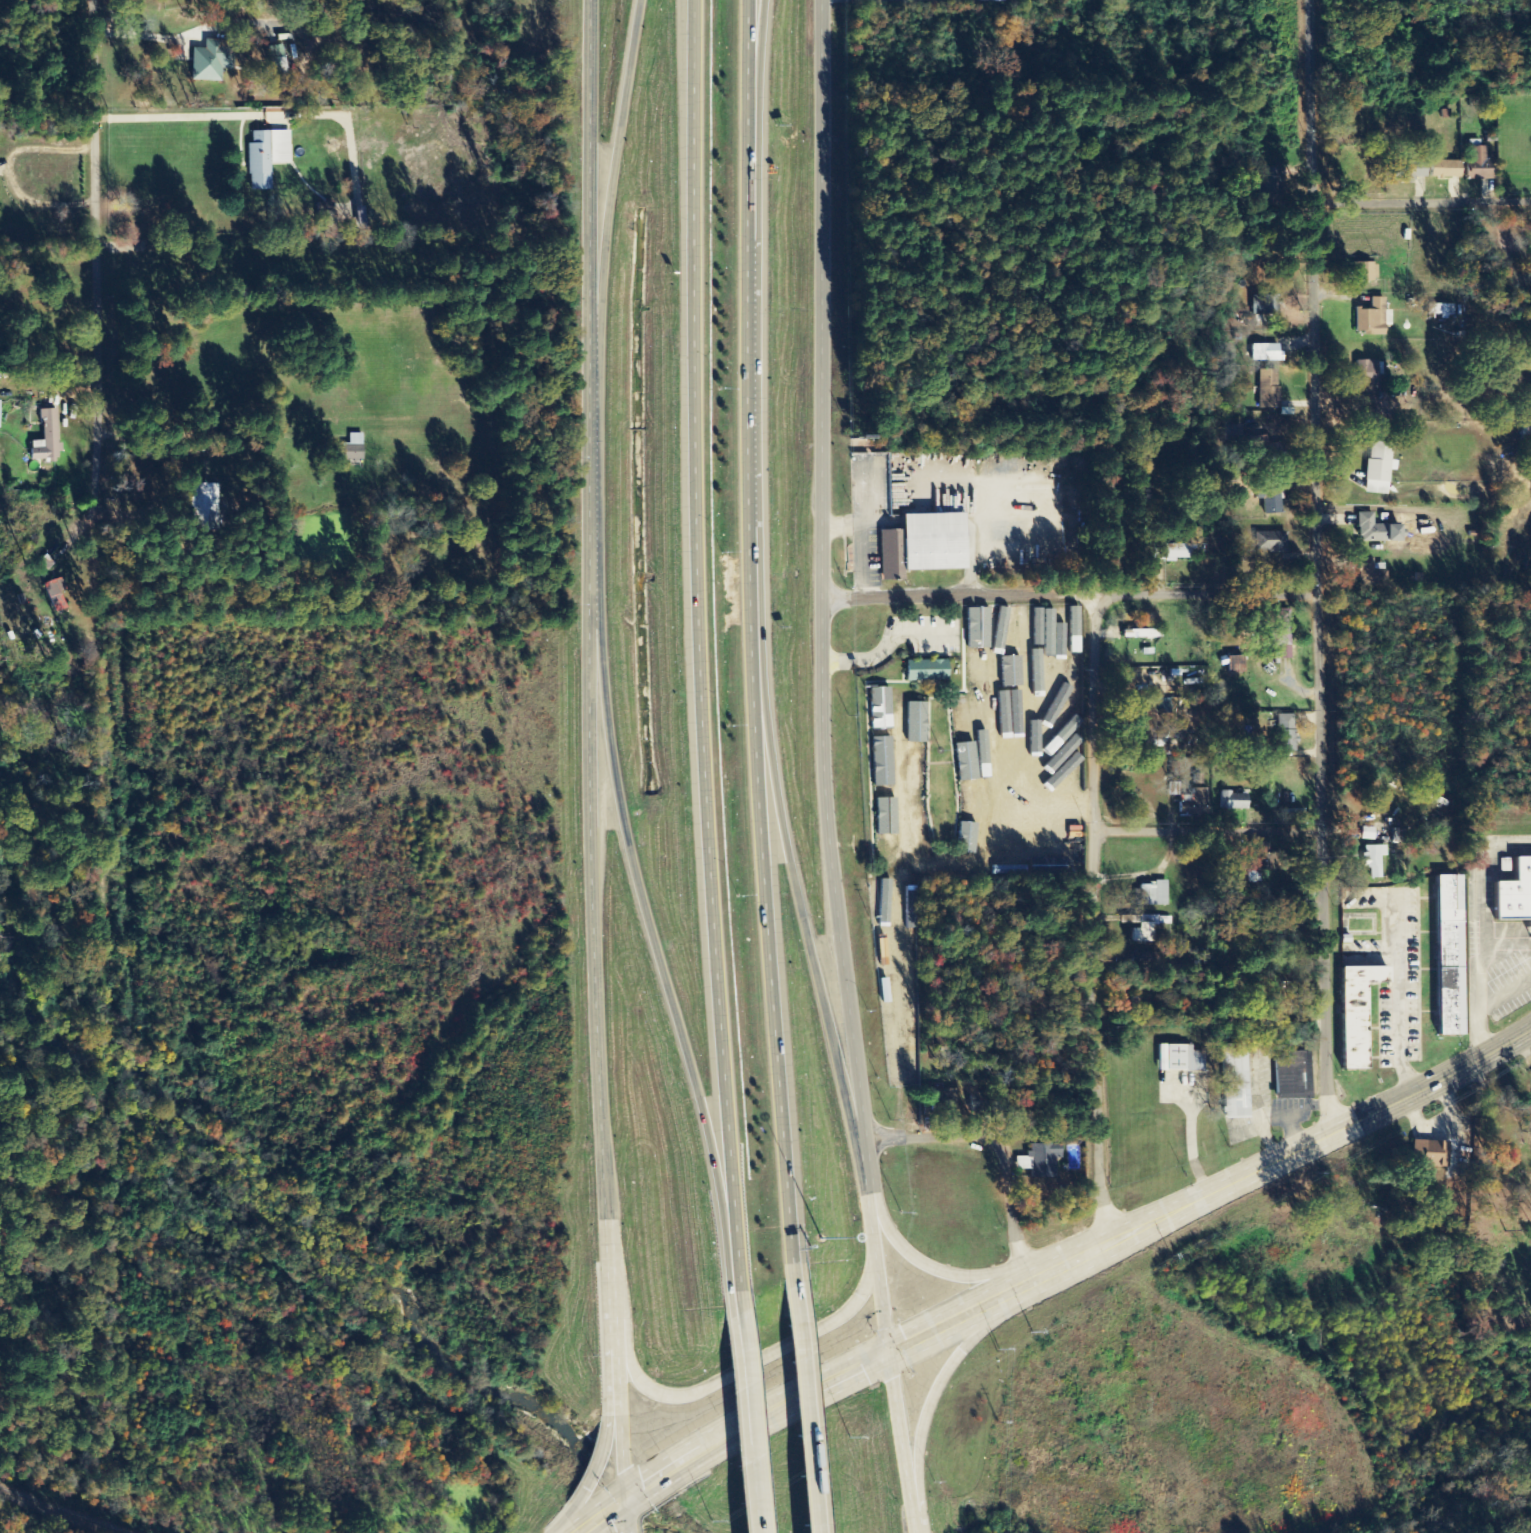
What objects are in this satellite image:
building: (988, 1)
road: (756, 43)
building: (212, 61)
building: (277, 62)
building: (265, 157)
building: (1479, 165)
building: (1410, 170)
building: (1445, 170)
road: (613, 180)
building: (1266, 180)
road: (1429, 198)
building: (1362, 273)
building: (1266, 309)
building: (1439, 311)
building: (1371, 319)
building: (1264, 354)
building: (1367, 374)
building: (1267, 390)
building: (0, 423)
road: (110, 433)
building: (45, 439)
building: (1262, 447)
building: (351, 449)
building: (1378, 469)
building: (1270, 499)
building: (206, 506)
building: (1370, 530)
building: (1270, 543)
building: (932, 547)
building: (1170, 553)
road: (1320, 566)
building: (1368, 575)
building: (61, 593)
road: (1213, 593)
building: (990, 624)
building: (1006, 626)
building: (974, 631)
building: (1071, 631)
building: (1023, 633)
building: (1279, 633)
building: (1143, 635)
road: (759, 643)
road: (698, 655)
building: (1235, 666)
building: (1009, 667)
building: (926, 672)
building: (976, 673)
building: (1024, 683)
building: (1061, 685)
building: (992, 688)
building: (1059, 702)
building: (1010, 708)
building: (878, 709)
building: (961, 718)
building: (977, 719)
building: (915, 724)
building: (1062, 732)
building: (1284, 734)
road: (822, 736)
building: (1156, 736)
building: (1016, 739)
road: (595, 749)
building: (881, 763)
building: (964, 764)
building: (982, 768)
building: (914, 772)
building: (969, 802)
building: (1233, 802)
building: (1194, 805)
building: (883, 820)
road: (1208, 829)
building: (918, 831)
building: (1372, 861)
building: (1256, 863)
building: (1043, 866)
road: (795, 882)
building: (1511, 891)
building: (1152, 895)
building: (881, 904)
road: (1095, 921)
building: (1144, 930)
building: (888, 953)
building: (1448, 957)
road: (661, 958)
building: (911, 963)
building: (912, 1005)
building: (1355, 1015)
building: (1178, 1060)
building: (1292, 1076)
building: (1234, 1083)
building: (941, 1100)
building: (954, 1101)
building: (995, 1102)
road: (1000, 1151)
building: (1050, 1157)
street lamp: (821, 1245)
road: (1076, 1263)
road: (932, 1267)
traffic signals: (890, 1353)
road: (954, 1363)
road: (739, 1370)
road: (799, 1409)
road: (746, 1421)
road: (592, 1467)
traffic signals: (623, 1498)
road: (914, 1500)
railway: (53, 1513)
road: (600, 1515)
road: (625, 1515)

